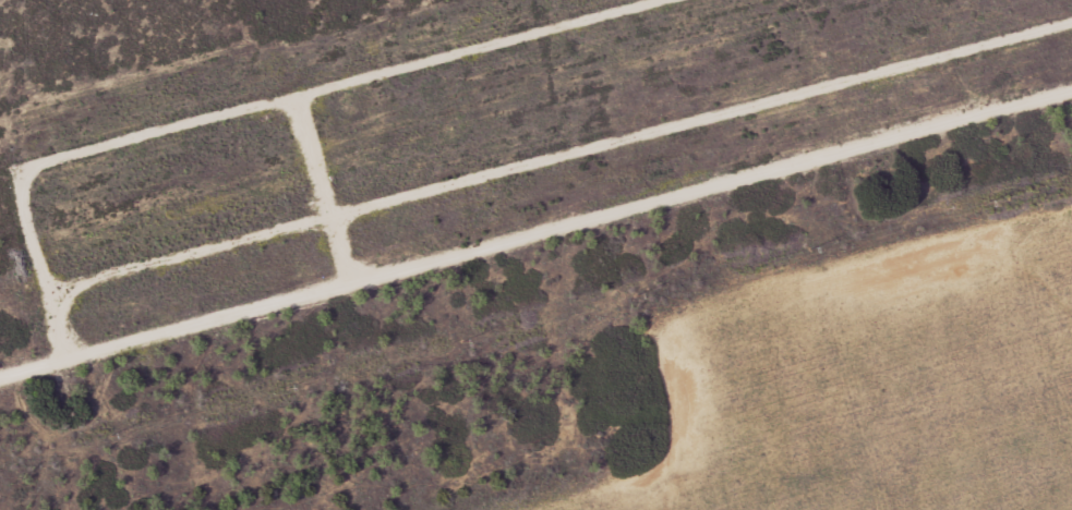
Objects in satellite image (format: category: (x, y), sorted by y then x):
road: (841, 74)
road: (535, 233)

